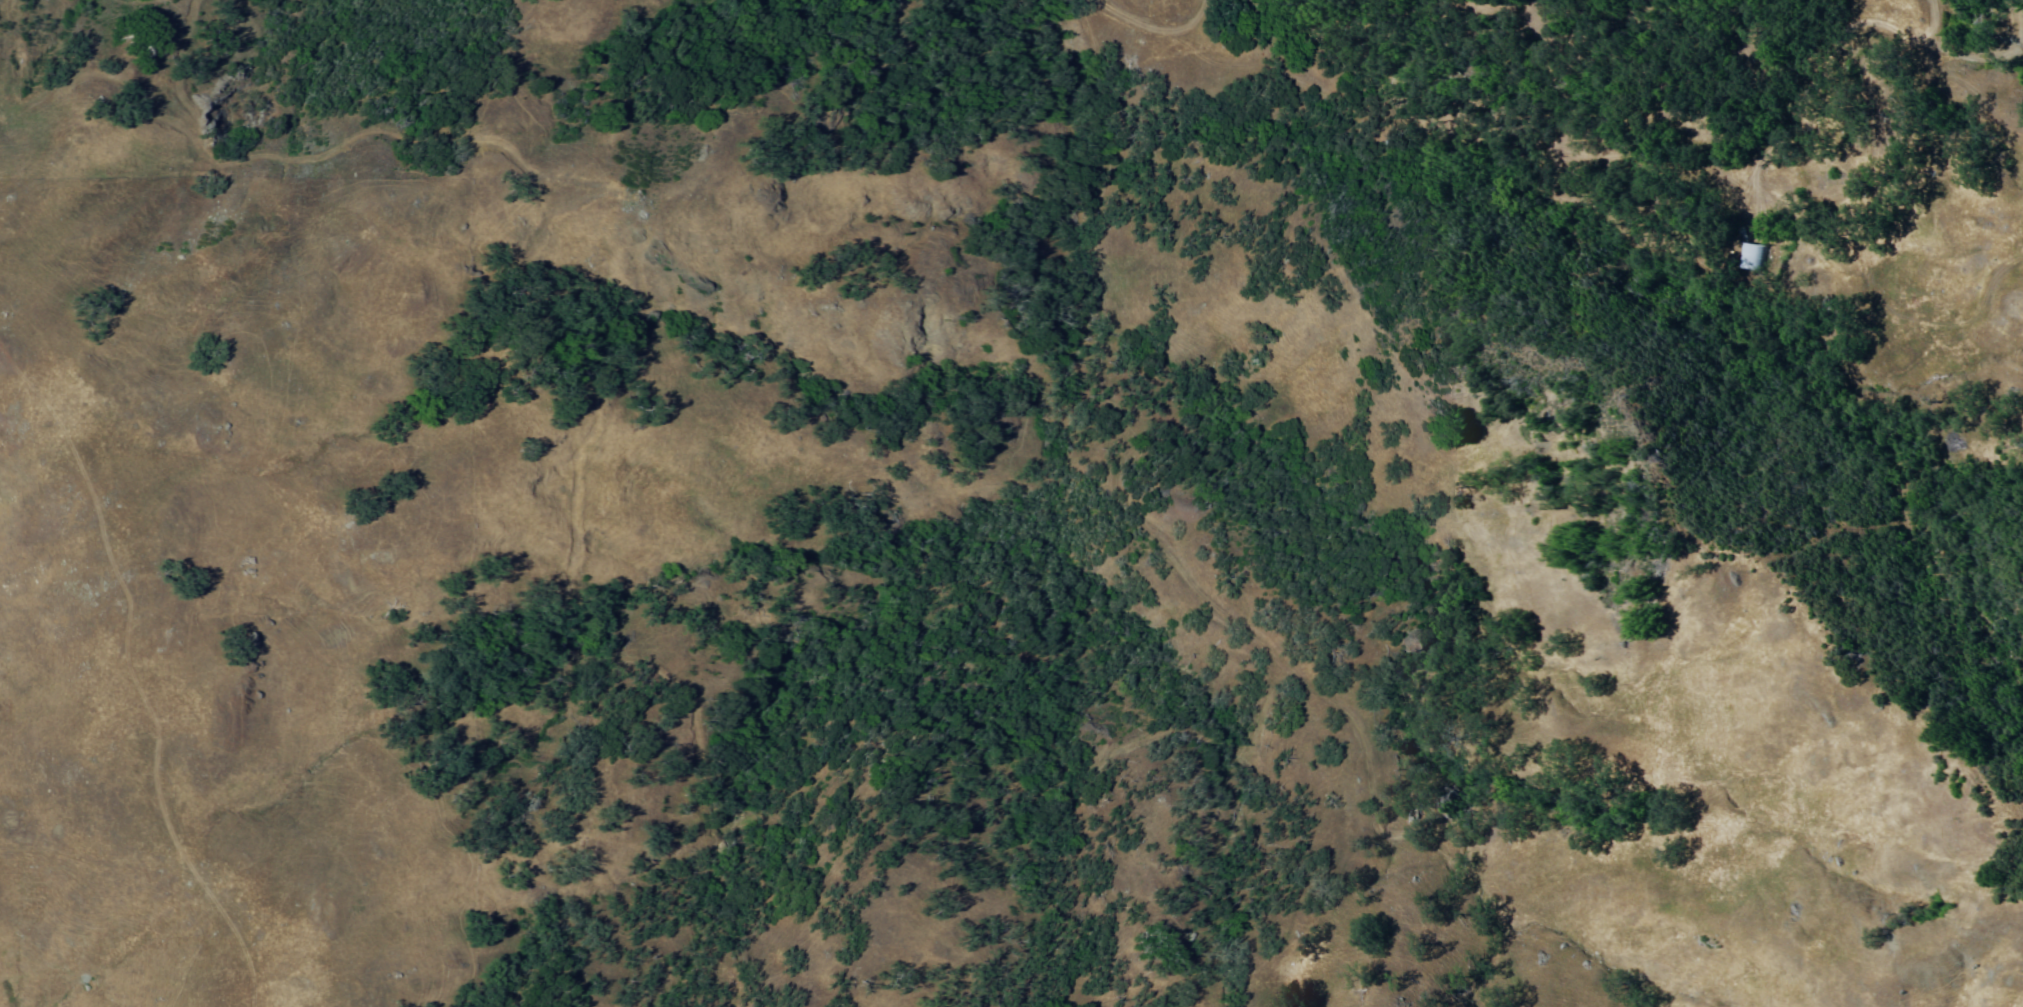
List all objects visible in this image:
road: (1157, 29)
road: (1977, 58)
building: (1754, 256)
road: (1238, 493)
road: (145, 699)

